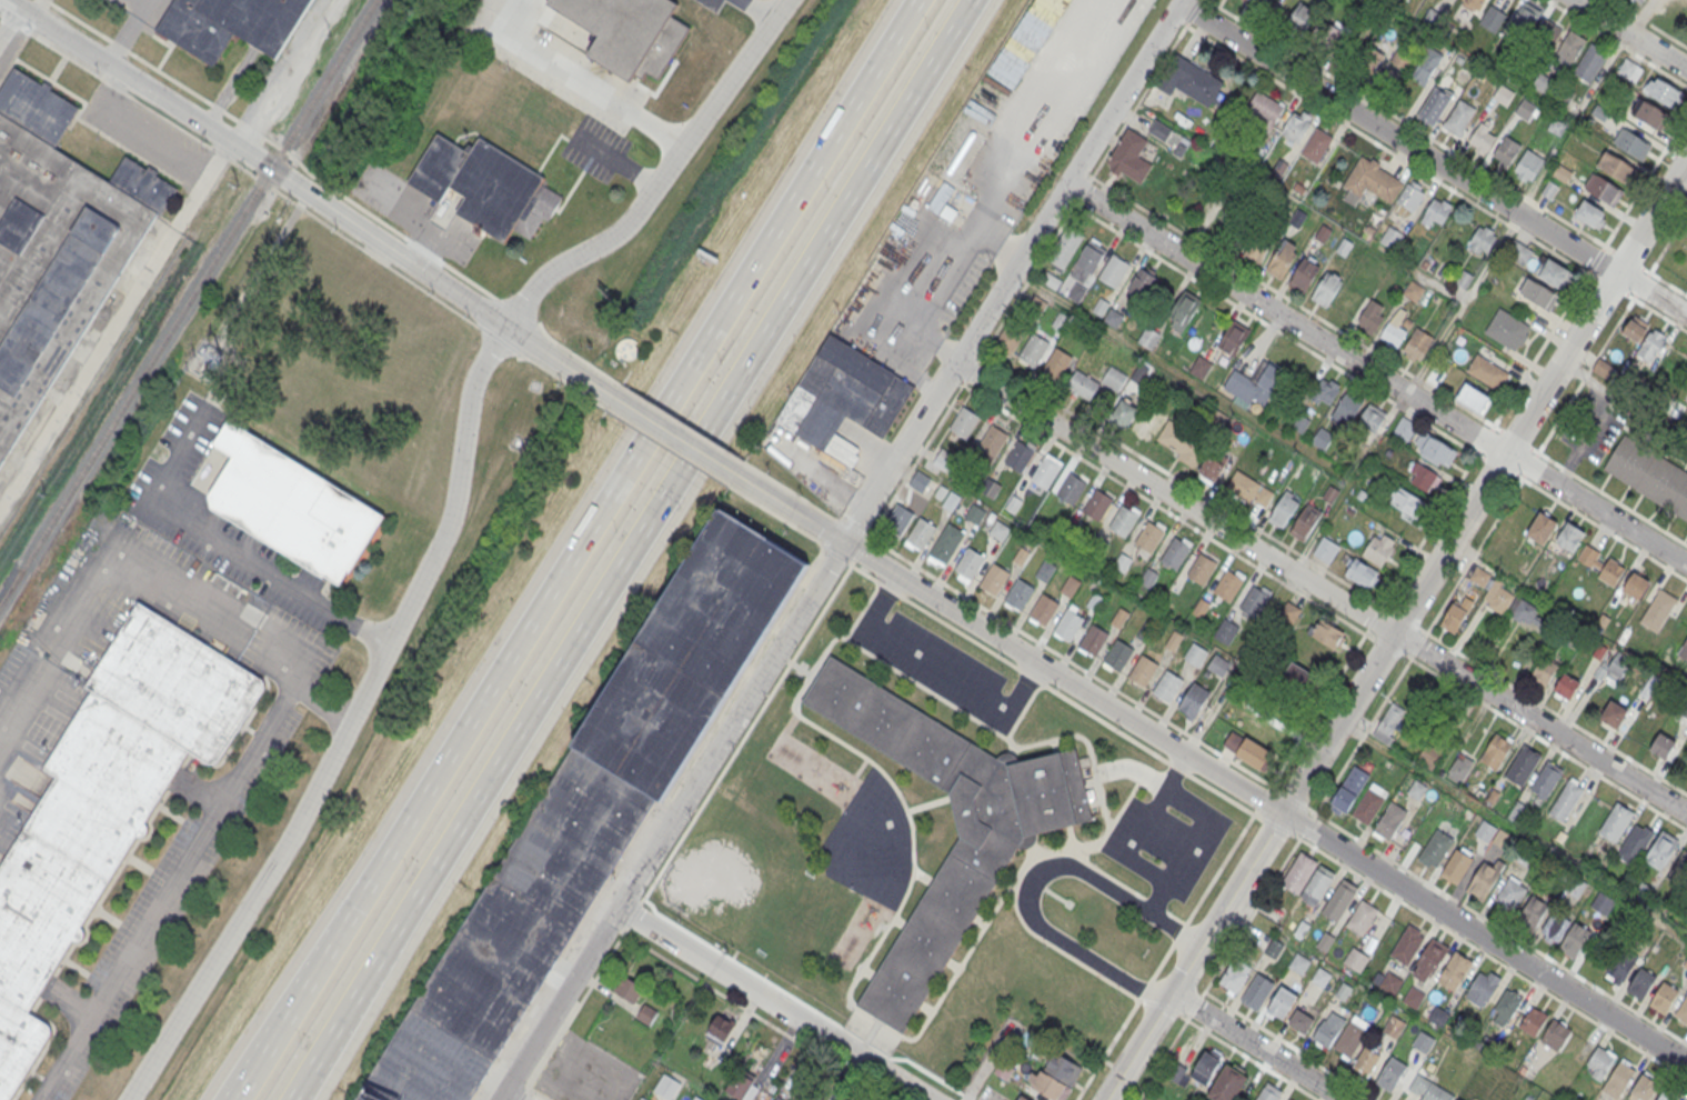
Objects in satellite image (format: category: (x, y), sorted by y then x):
building: (1257, 1)
parking lot: (712, 3)
parking lot: (740, 3)
building: (1473, 4)
parking lot: (145, 10)
road: (755, 10)
building: (1296, 16)
building: (1493, 19)
building: (1523, 22)
building: (231, 23)
building: (629, 32)
road: (1629, 34)
building: (1335, 36)
building: (1547, 36)
road: (14, 37)
building: (1568, 50)
building: (1404, 56)
building: (1370, 59)
parking lot: (552, 60)
building: (1589, 64)
building: (1426, 66)
building: (1627, 72)
building: (1192, 80)
building: (1540, 83)
building: (1664, 93)
road: (599, 94)
building: (1563, 98)
building: (1434, 106)
building: (1264, 110)
building: (1525, 110)
building: (1598, 114)
building: (1459, 117)
building: (1651, 117)
building: (1297, 126)
building: (1158, 130)
parking lot: (147, 134)
building: (1480, 140)
road: (277, 143)
building: (1316, 143)
building: (1631, 143)
parking lot: (600, 150)
building: (1505, 152)
building: (1131, 156)
road: (1432, 161)
road: (241, 164)
building: (1529, 166)
building: (1616, 167)
building: (1370, 181)
building: (486, 186)
road: (799, 186)
building: (1603, 189)
road: (305, 191)
building: (1409, 196)
road: (1080, 197)
road: (848, 203)
building: (1437, 212)
building: (1590, 213)
building: (902, 219)
building: (1296, 219)
parking lot: (955, 221)
building: (1392, 239)
building: (1483, 240)
building: (56, 242)
building: (1257, 247)
building: (1066, 248)
building: (1091, 258)
building: (1283, 260)
building: (1113, 271)
building: (1553, 271)
building: (1304, 276)
road: (1027, 279)
building: (1143, 284)
building: (1326, 290)
building: (1414, 292)
building: (1538, 293)
railway: (187, 302)
road: (1463, 304)
road: (516, 310)
building: (1184, 312)
building: (1372, 317)
road: (117, 326)
road: (543, 328)
building: (1394, 328)
building: (1507, 329)
road: (498, 338)
building: (1010, 338)
building: (1148, 339)
building: (1233, 339)
building: (1644, 340)
building: (1417, 347)
building: (626, 349)
building: (1033, 351)
road: (523, 356)
building: (1056, 366)
building: (1201, 368)
road: (972, 369)
building: (1487, 371)
road: (1376, 374)
building: (1436, 374)
building: (1112, 378)
building: (1255, 384)
building: (1083, 387)
building: (1323, 391)
building: (843, 394)
building: (1473, 399)
road: (662, 410)
building: (1346, 410)
building: (1127, 416)
road: (1598, 418)
building: (1372, 419)
building: (964, 421)
road: (692, 427)
building: (1403, 428)
road: (669, 432)
building: (993, 440)
building: (1181, 441)
road: (675, 447)
road: (696, 448)
building: (1021, 456)
building: (943, 459)
building: (1046, 470)
building: (1211, 470)
building: (1649, 474)
building: (1424, 479)
road: (1182, 480)
building: (918, 481)
building: (990, 487)
building: (1071, 488)
building: (1249, 490)
building: (951, 500)
building: (1407, 501)
building: (1013, 503)
building: (291, 504)
building: (1097, 504)
road: (1165, 508)
building: (1283, 511)
building: (974, 513)
building: (898, 519)
parking lot: (220, 520)
road: (841, 520)
building: (1123, 520)
building: (1305, 522)
road: (855, 526)
building: (1542, 528)
road: (448, 529)
building: (998, 530)
building: (920, 533)
building: (1149, 537)
building: (1568, 538)
road: (821, 542)
building: (946, 542)
road: (129, 549)
building: (1326, 549)
road: (840, 550)
building: (1379, 550)
road: (834, 552)
building: (1175, 552)
building: (1021, 556)
road: (225, 557)
building: (970, 562)
building: (1122, 562)
building: (1600, 566)
building: (1201, 569)
building: (1045, 570)
building: (1362, 572)
building: (1148, 577)
building: (1479, 577)
building: (994, 578)
building: (1228, 583)
building: (1071, 584)
building: (1636, 586)
road: (1322, 587)
building: (1018, 593)
railway: (6, 594)
road: (881, 598)
building: (1497, 599)
building: (1255, 600)
building: (1094, 601)
building: (1201, 607)
road: (1382, 607)
building: (1043, 609)
building: (1658, 610)
building: (1291, 613)
building: (1528, 614)
building: (1119, 617)
road: (1375, 618)
building: (1454, 619)
building: (1068, 623)
road: (1367, 629)
road: (1396, 629)
road: (585, 630)
building: (1226, 630)
building: (1145, 631)
building: (1327, 633)
building: (1093, 639)
building: (1174, 640)
building: (1683, 650)
building: (1196, 653)
building: (1118, 654)
road: (1071, 659)
building: (1218, 664)
parking lot: (941, 667)
road: (940, 669)
building: (1142, 670)
building: (1614, 670)
building: (1544, 671)
road: (295, 674)
building: (1297, 680)
building: (1566, 684)
road: (1051, 686)
building: (1167, 686)
road: (1026, 687)
road: (21, 692)
building: (1193, 699)
road: (1318, 708)
building: (1614, 713)
building: (1389, 722)
road: (746, 733)
building: (1663, 744)
road: (452, 748)
building: (1248, 750)
building: (1496, 751)
building: (1428, 756)
building: (1524, 764)
road: (1213, 768)
building: (1458, 771)
building: (1546, 779)
building: (1417, 790)
building: (1348, 792)
road: (1263, 798)
building: (106, 800)
building: (1566, 800)
building: (1369, 804)
road: (1256, 810)
building: (590, 816)
building: (1390, 820)
building: (1617, 821)
road: (1202, 824)
building: (1485, 831)
building: (1635, 843)
building: (993, 844)
road: (1132, 846)
building: (1436, 848)
building: (1661, 849)
building: (1457, 867)
building: (1679, 871)
building: (1307, 879)
road: (1032, 880)
building: (1484, 881)
building: (1574, 888)
road: (167, 890)
building: (1510, 891)
building: (1339, 899)
building: (1601, 903)
building: (1533, 912)
building: (1362, 917)
building: (1555, 928)
road: (394, 933)
road: (1458, 936)
building: (1575, 940)
building: (1407, 943)
building: (1432, 958)
building: (1356, 959)
building: (1298, 962)
building: (1618, 970)
building: (1455, 971)
building: (1234, 977)
building: (1392, 982)
building: (1641, 983)
building: (1482, 987)
building: (627, 988)
building: (1257, 992)
building: (1414, 996)
building: (1664, 997)
building: (1282, 1002)
building: (1508, 1002)
road: (773, 1003)
road: (752, 1011)
building: (1683, 1011)
building: (647, 1014)
building: (1438, 1014)
building: (1302, 1021)
building: (1533, 1021)
building: (1394, 1026)
building: (721, 1029)
building: (1328, 1029)
building: (1555, 1034)
building: (1350, 1038)
building: (1424, 1041)
road: (1256, 1047)
building: (1366, 1059)
road: (991, 1060)
building: (1600, 1061)
building: (1205, 1068)
building: (1063, 1069)
building: (1004, 1071)
parking lot: (584, 1072)
road: (250, 1073)
building: (1392, 1073)
building: (1618, 1078)
building: (1227, 1084)
building: (741, 1087)
building: (666, 1088)
building: (1050, 1088)
building: (1645, 1088)
building: (1429, 1089)
road: (523, 1093)
road: (538, 1093)
building: (1268, 1093)
road: (509, 1097)
building: (1666, 1097)
building: (1022, 1098)
building: (642, 1099)
building: (777, 1099)
building: (1459, 1099)

